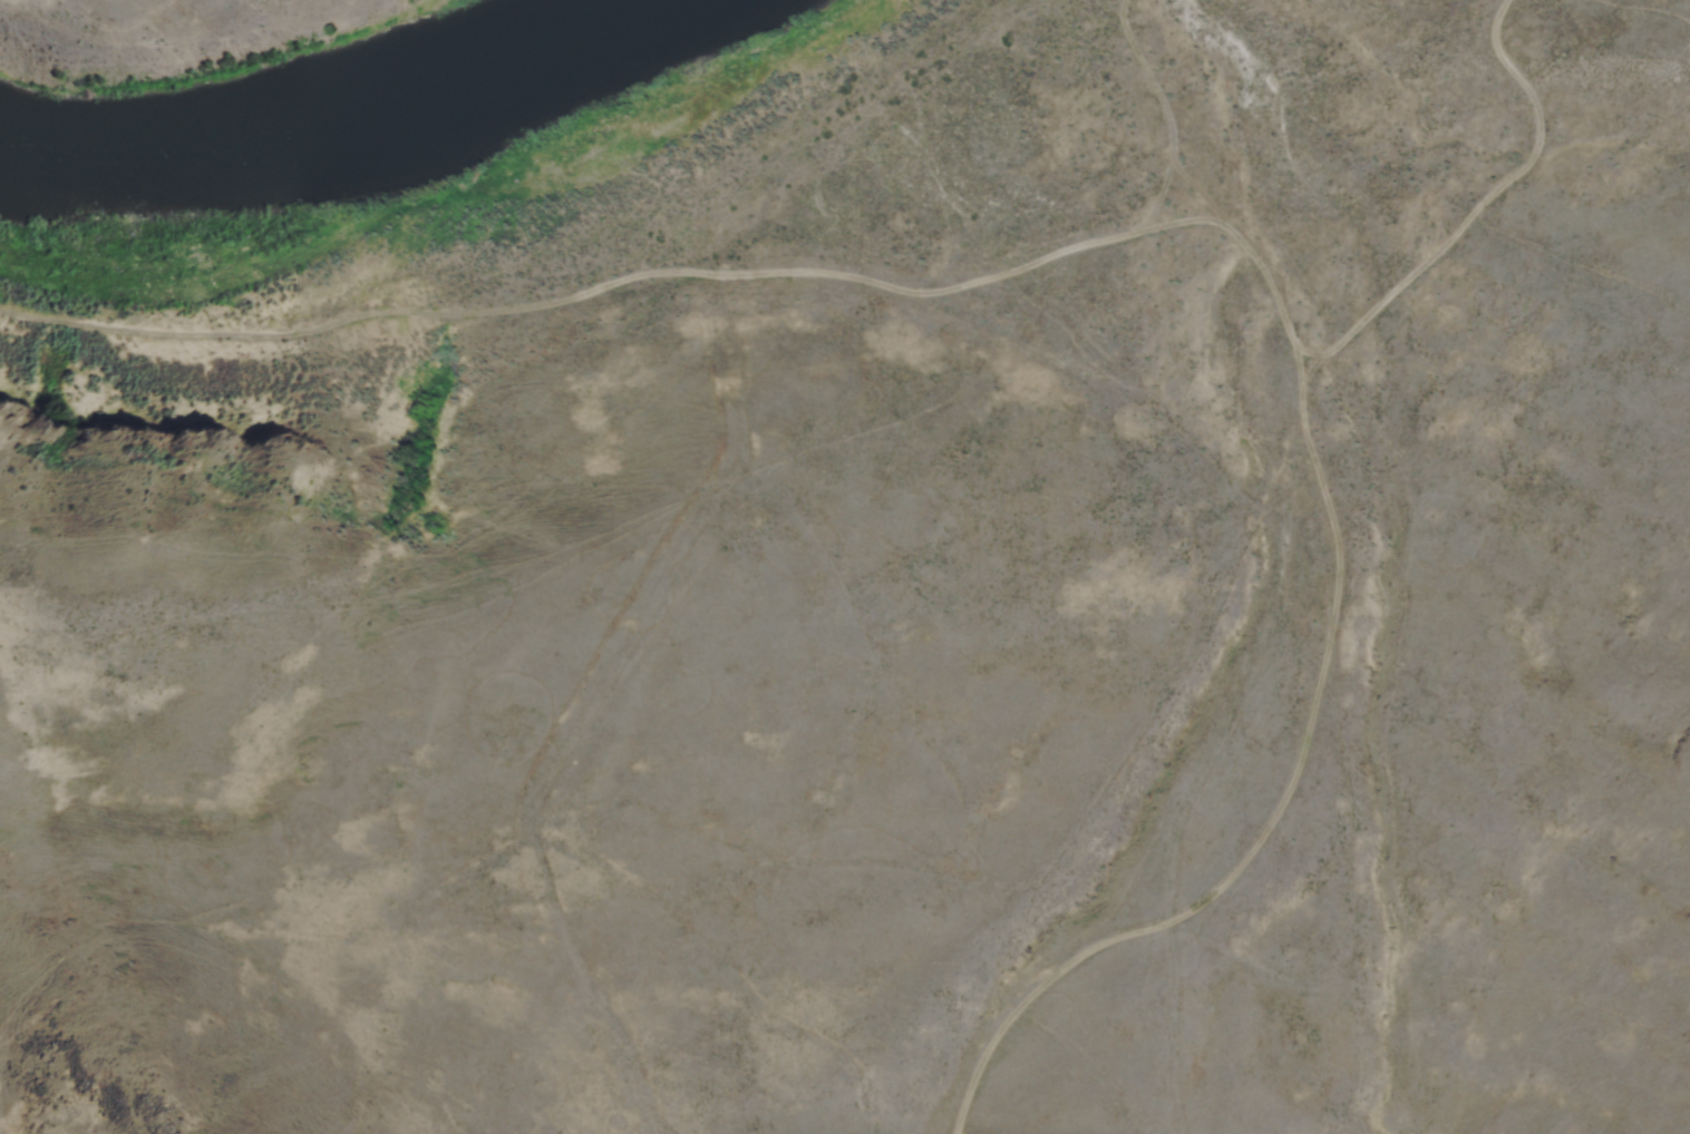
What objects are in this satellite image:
river: (321, 134)
road: (929, 291)

